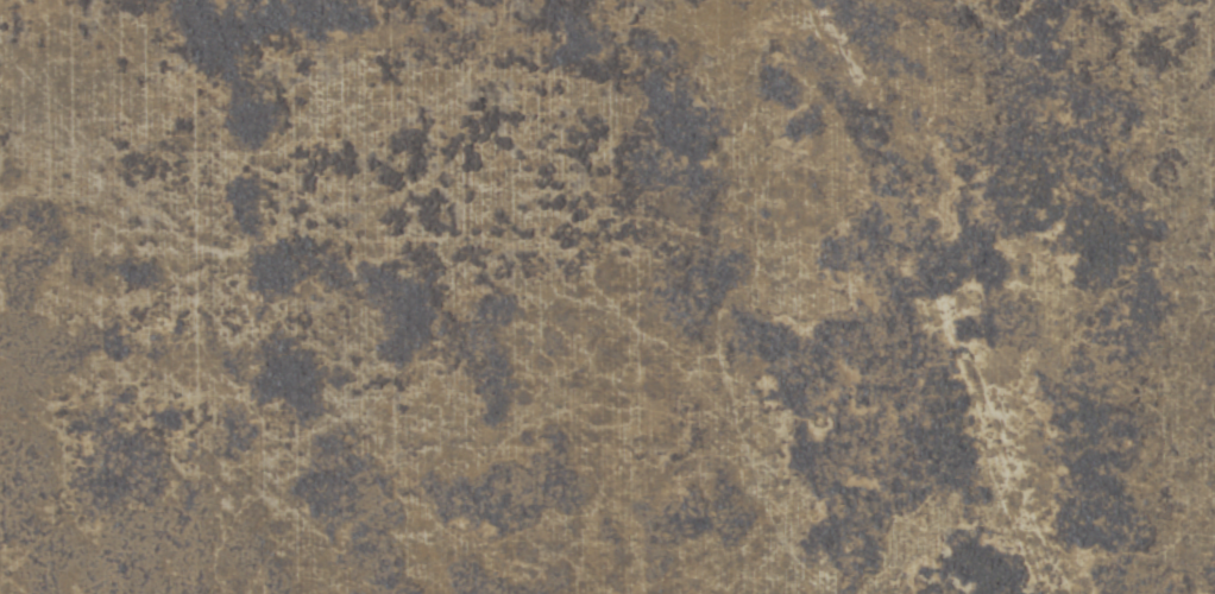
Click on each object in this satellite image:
crop: (607, 297)

